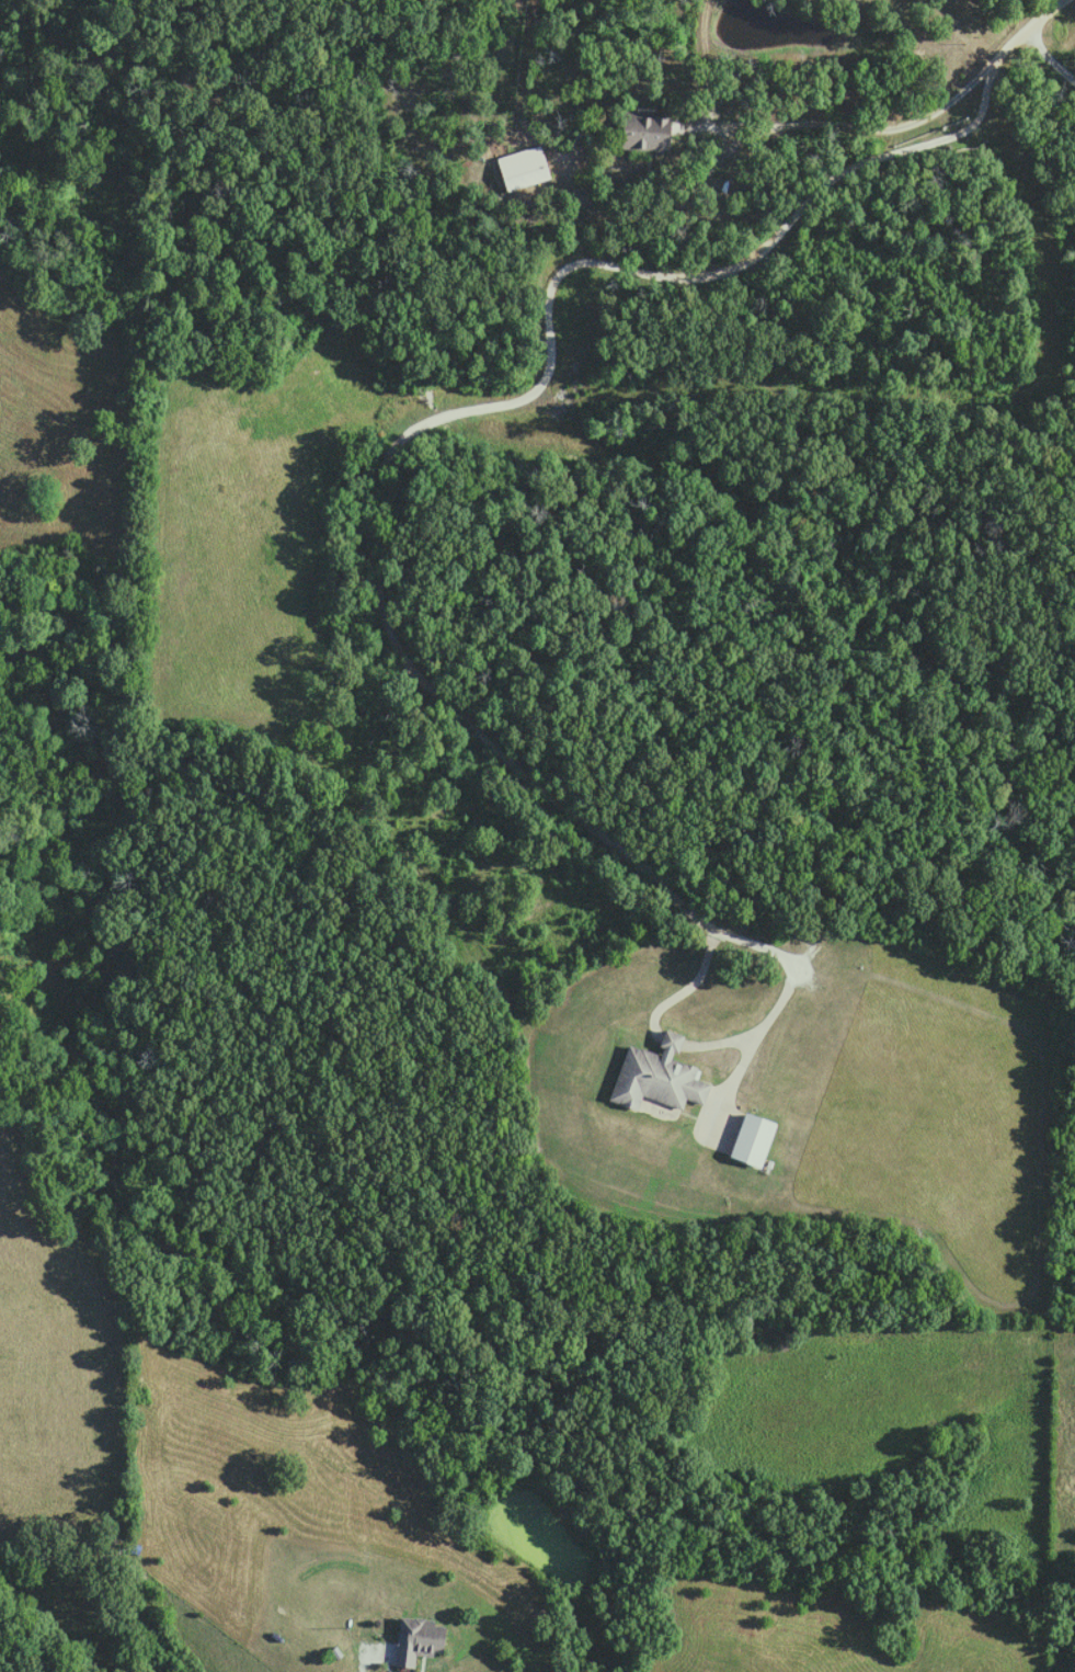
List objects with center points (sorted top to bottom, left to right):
road: (1047, 57)
road: (890, 126)
building: (651, 132)
building: (527, 169)
road: (462, 402)
road: (774, 1005)
building: (659, 1077)
building: (755, 1139)
building: (419, 1640)
road: (354, 1661)

